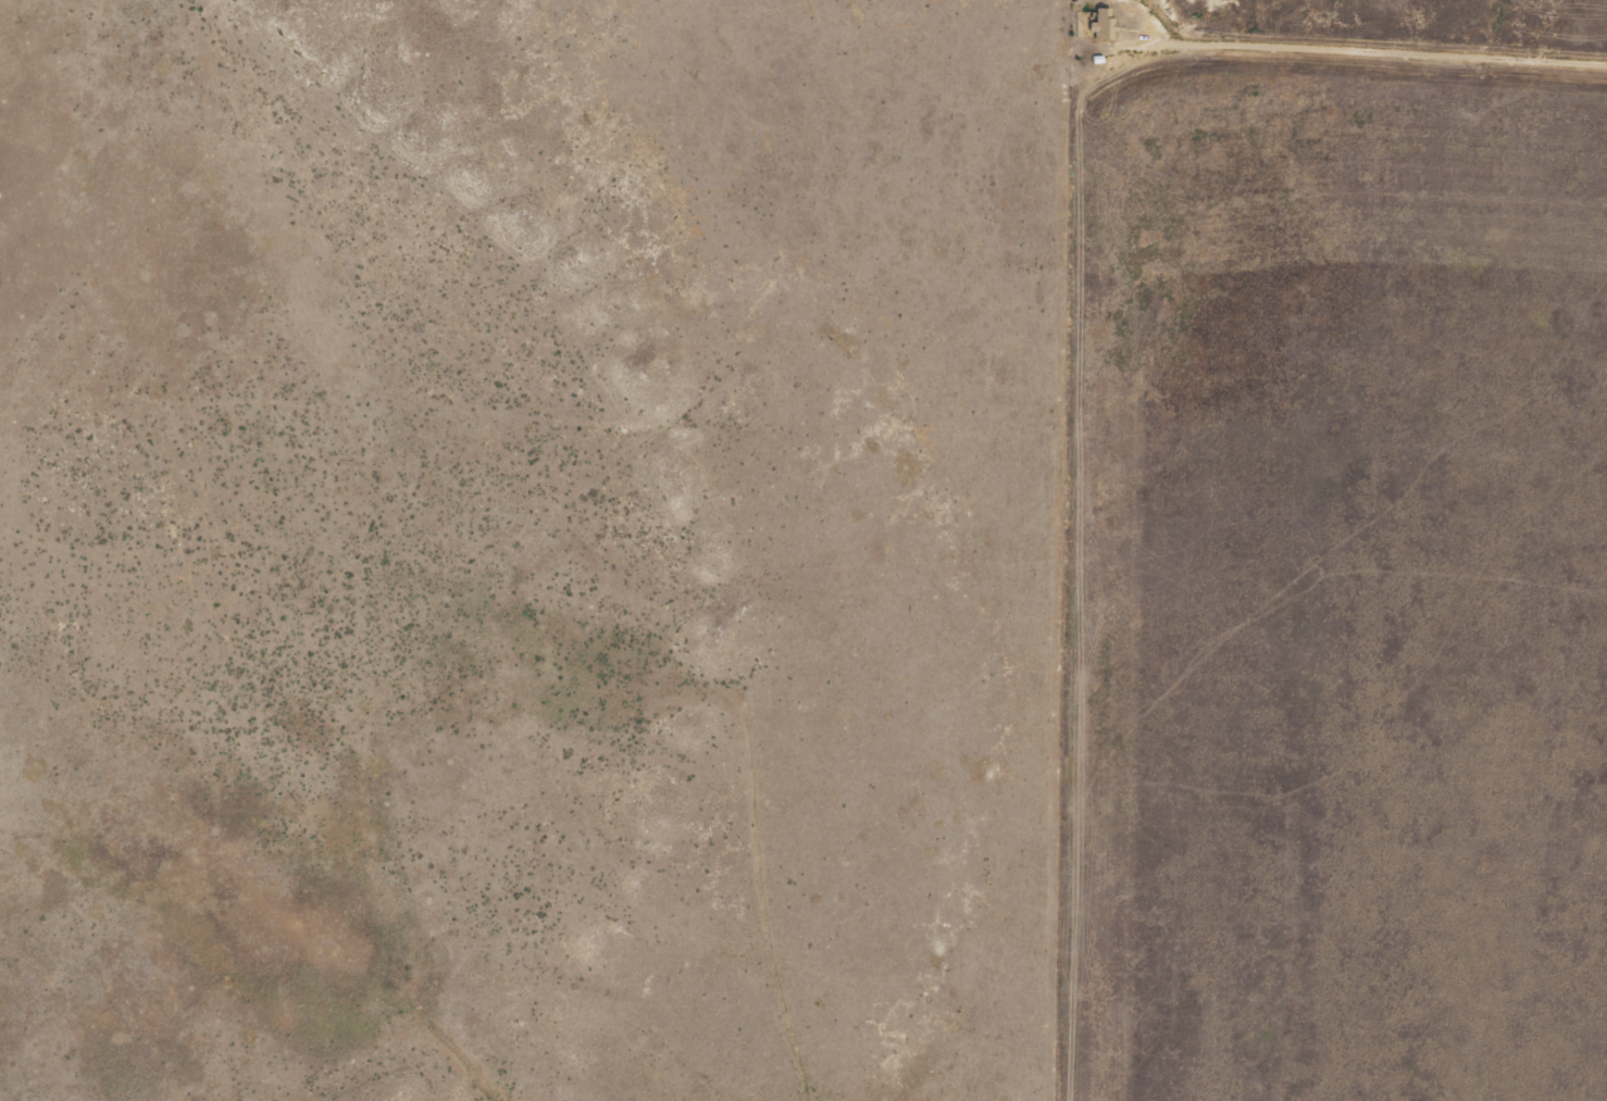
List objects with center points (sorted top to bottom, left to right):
road: (1383, 47)

